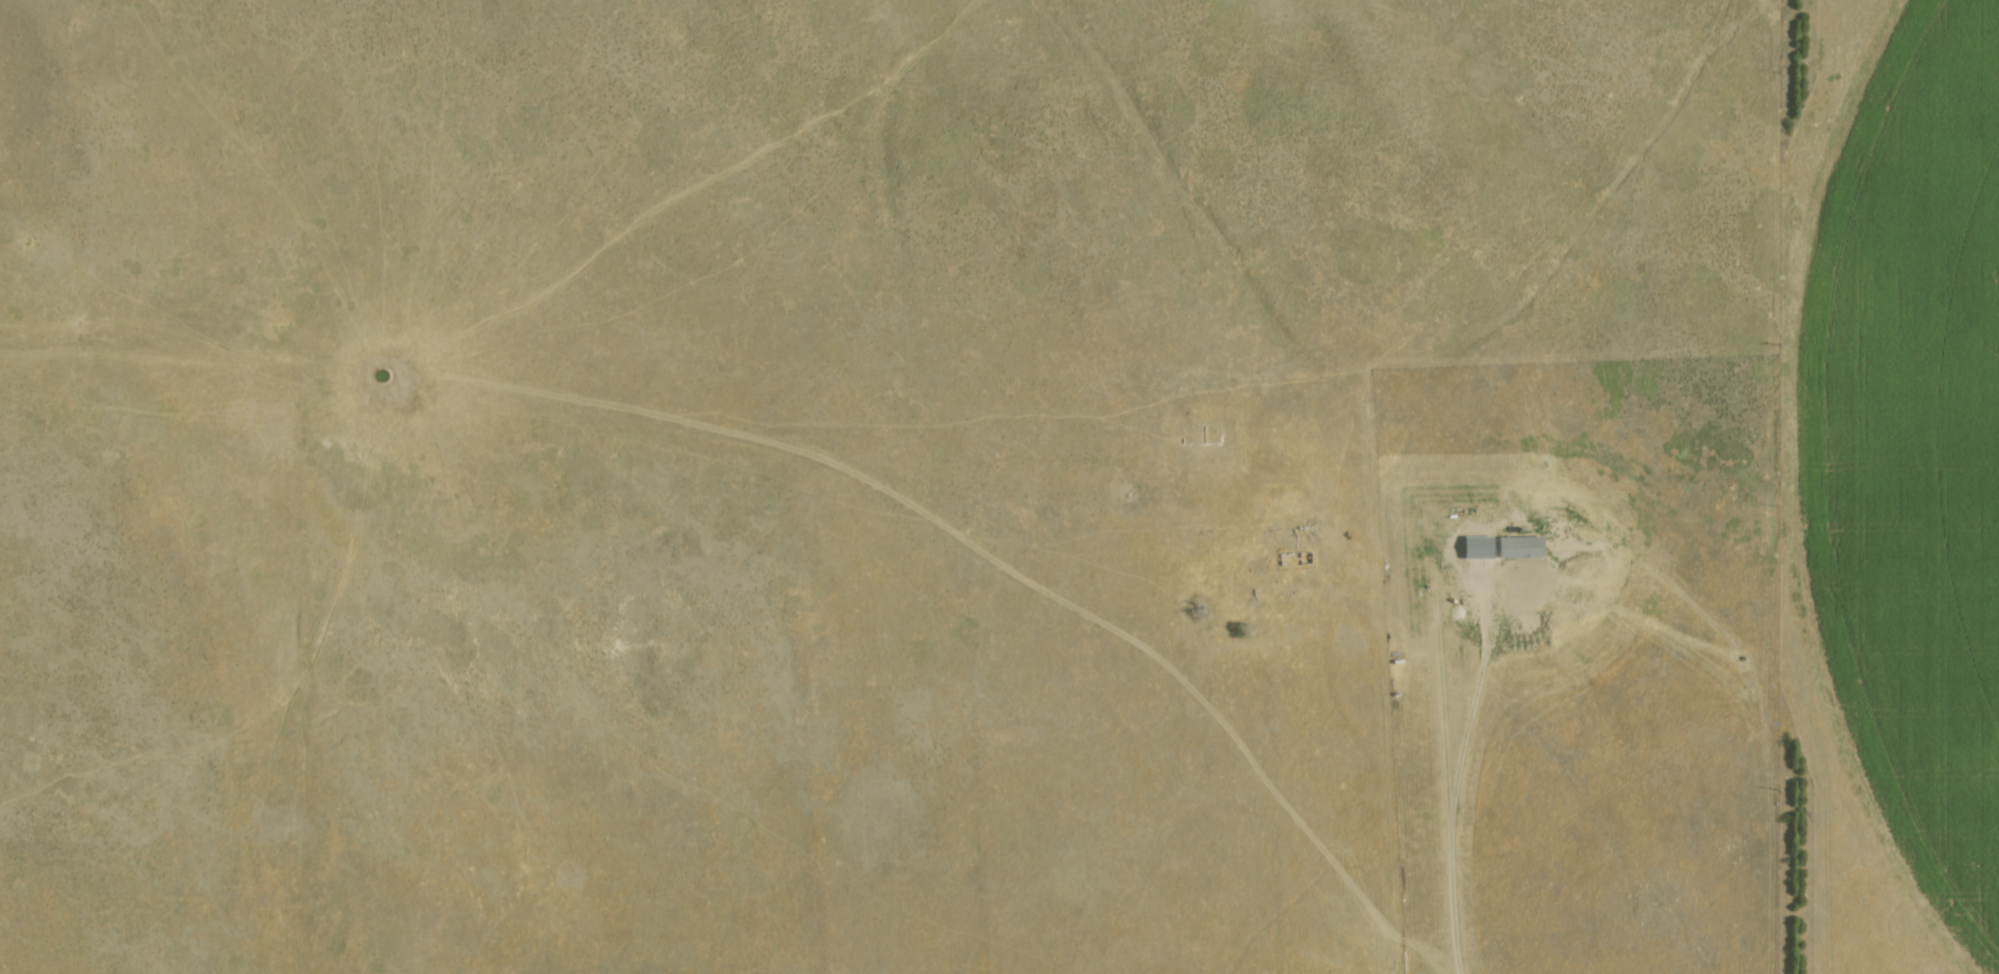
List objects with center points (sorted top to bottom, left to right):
crop: (1911, 446)

